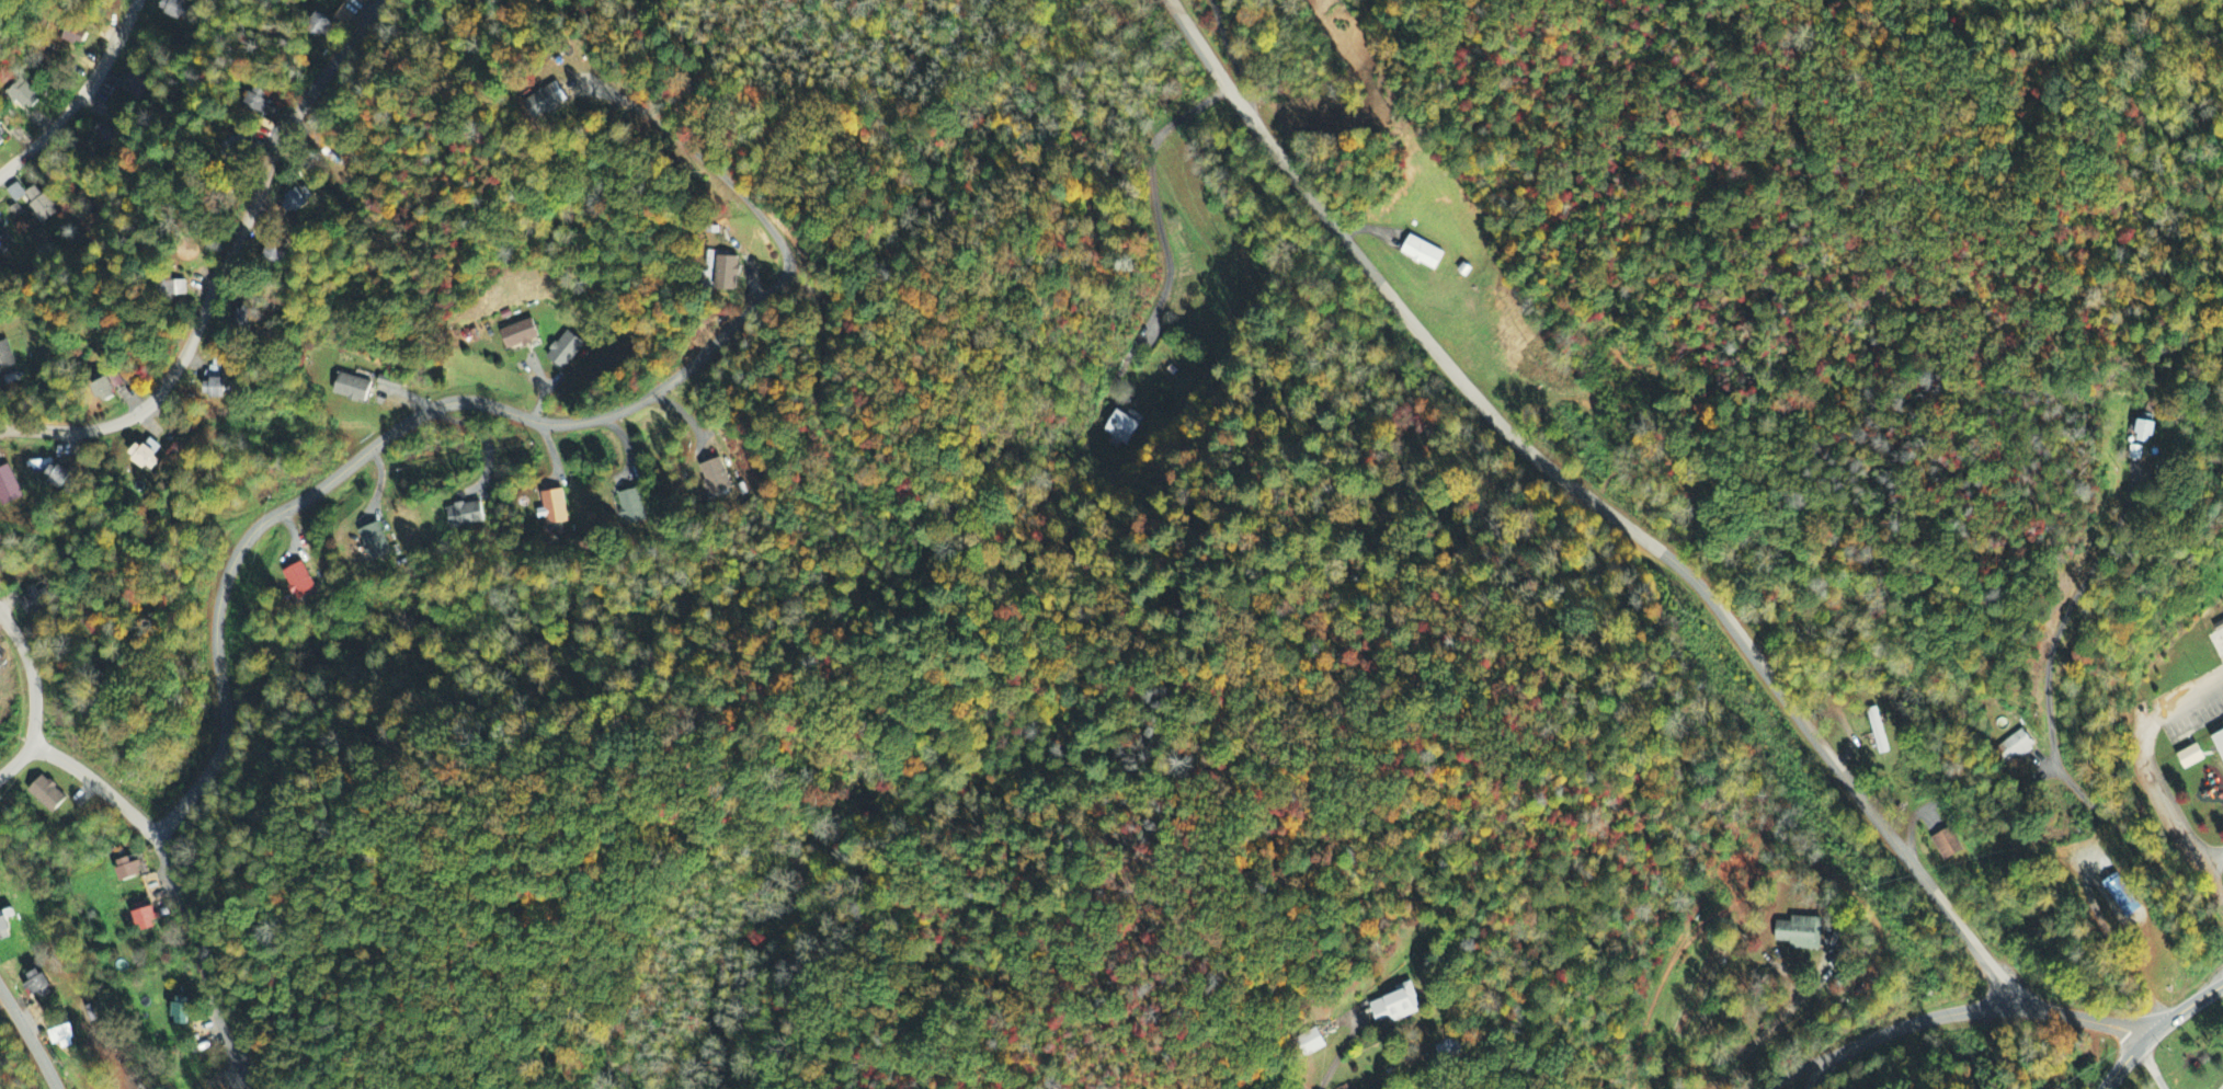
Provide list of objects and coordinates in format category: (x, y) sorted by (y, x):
building: (173, 9)
building: (320, 28)
building: (75, 38)
road: (79, 95)
building: (23, 98)
building: (258, 102)
building: (545, 103)
building: (104, 135)
building: (15, 195)
building: (296, 202)
building: (39, 207)
building: (2, 244)
building: (1423, 254)
road: (226, 271)
building: (726, 275)
building: (176, 290)
building: (518, 336)
building: (563, 352)
building: (5, 359)
building: (217, 386)
building: (351, 390)
building: (103, 391)
road: (501, 408)
building: (1121, 428)
building: (2144, 432)
building: (146, 457)
building: (715, 479)
building: (8, 489)
building: (630, 509)
building: (554, 512)
building: (465, 516)
road: (1646, 541)
building: (374, 543)
building: (298, 583)
building: (31, 603)
building: (0, 668)
road: (29, 678)
building: (1878, 727)
road: (2060, 727)
road: (2145, 735)
building: (2219, 738)
building: (2021, 744)
building: (2192, 757)
road: (16, 760)
building: (47, 795)
building: (1948, 841)
road: (2209, 858)
building: (2072, 859)
road: (2197, 863)
building: (129, 870)
road: (172, 881)
building: (2121, 893)
building: (145, 920)
building: (1804, 928)
building: (37, 986)
building: (1399, 1004)
road: (2182, 1009)
building: (181, 1012)
road: (1884, 1032)
building: (62, 1038)
road: (27, 1039)
building: (1306, 1044)
road: (1340, 1055)
road: (2123, 1063)
road: (1812, 1076)

